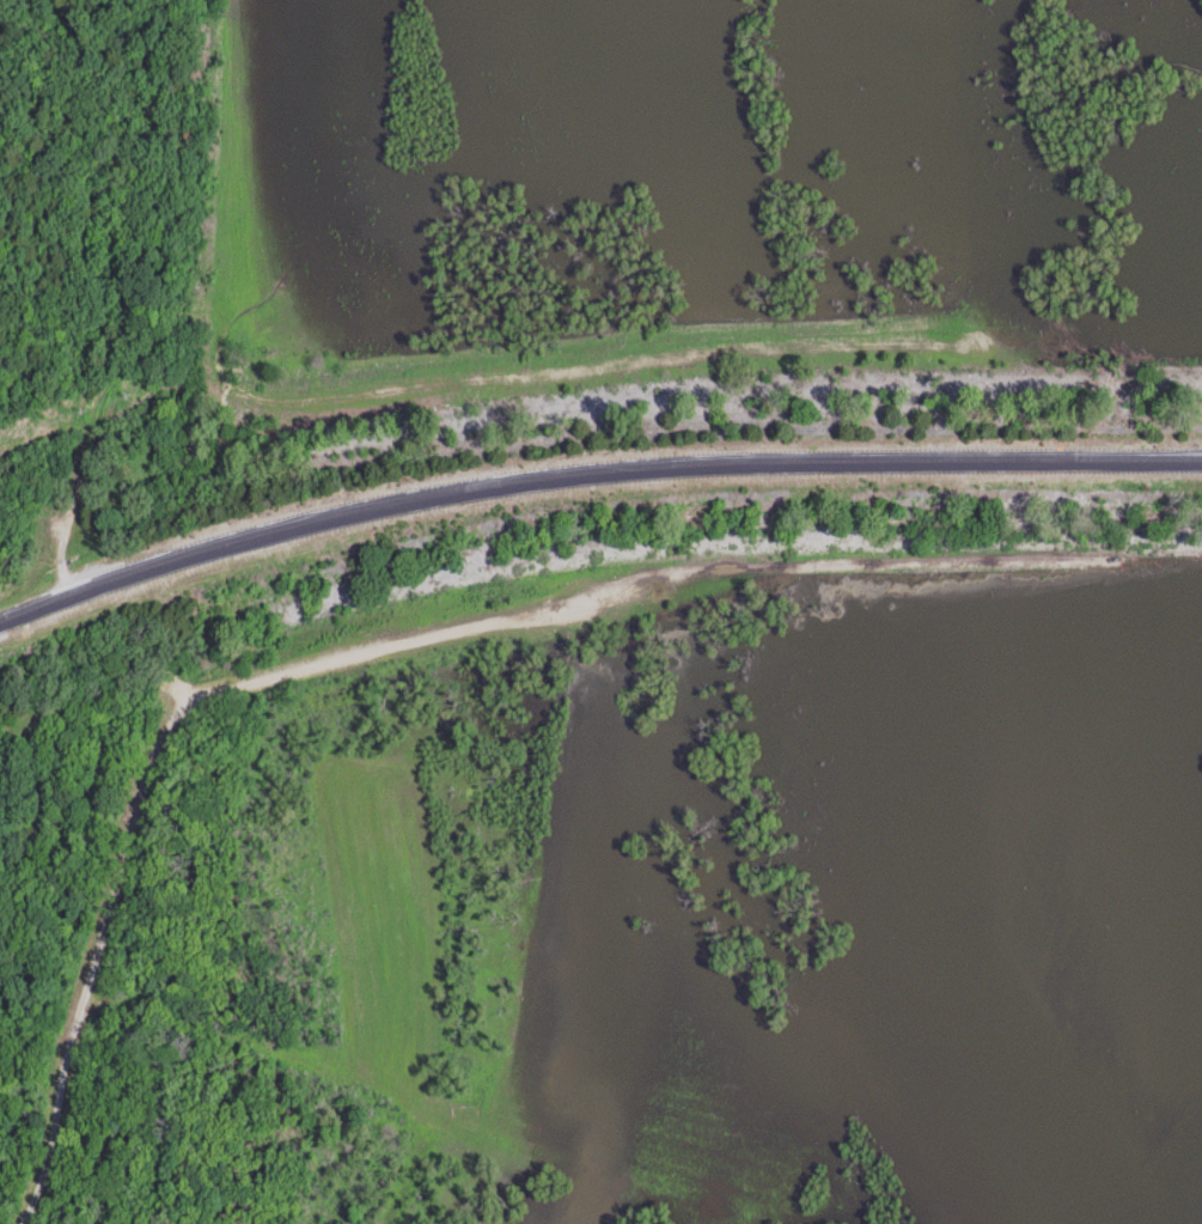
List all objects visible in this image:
road: (849, 353)
road: (591, 473)
road: (419, 638)

